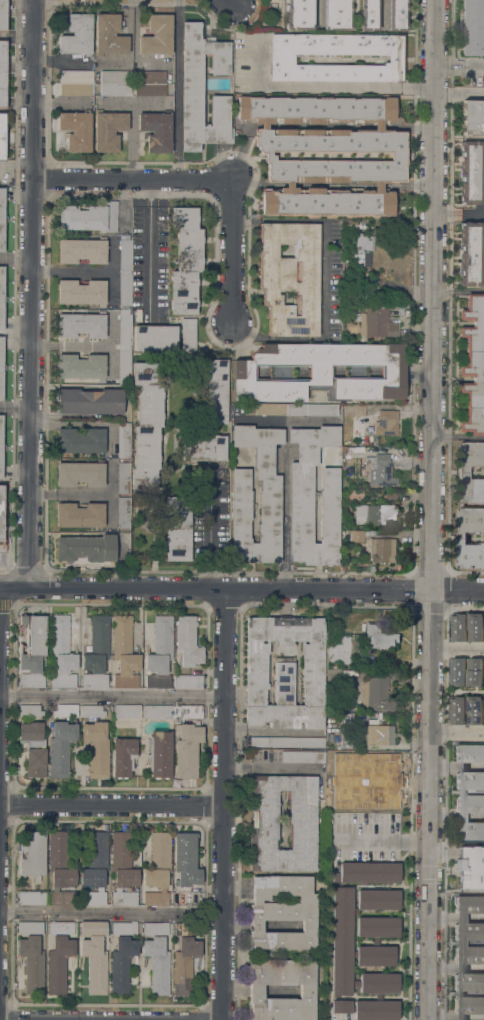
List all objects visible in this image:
road: (231, 0)
building: (483, 4)
building: (299, 14)
building: (3, 15)
building: (337, 15)
building: (369, 15)
building: (397, 15)
building: (471, 27)
building: (77, 35)
building: (109, 35)
building: (156, 35)
building: (282, 60)
road: (458, 69)
building: (3, 74)
building: (76, 82)
building: (115, 83)
building: (149, 83)
building: (192, 85)
road: (322, 86)
building: (473, 117)
building: (75, 130)
building: (107, 130)
building: (156, 130)
building: (2, 136)
building: (398, 157)
building: (471, 172)
road: (134, 180)
road: (457, 213)
building: (89, 217)
building: (1, 218)
building: (350, 225)
building: (362, 249)
building: (82, 251)
road: (234, 251)
building: (470, 254)
building: (185, 260)
road: (72, 271)
building: (289, 277)
road: (14, 289)
building: (81, 292)
road: (33, 293)
building: (1, 297)
building: (124, 307)
building: (376, 323)
building: (81, 325)
building: (188, 334)
building: (154, 338)
road: (59, 346)
building: (473, 365)
building: (80, 367)
building: (1, 368)
building: (322, 372)
building: (213, 391)
building: (89, 401)
building: (265, 409)
building: (354, 409)
building: (311, 410)
road: (311, 420)
building: (386, 422)
building: (146, 425)
building: (123, 439)
building: (80, 441)
building: (0, 443)
building: (203, 448)
building: (379, 470)
building: (80, 474)
building: (123, 477)
road: (284, 479)
building: (470, 504)
building: (269, 506)
road: (431, 510)
building: (1, 512)
building: (122, 512)
building: (376, 512)
building: (79, 515)
building: (300, 517)
building: (177, 528)
building: (369, 533)
building: (386, 533)
building: (356, 536)
road: (209, 541)
building: (86, 550)
building: (382, 550)
building: (371, 569)
road: (241, 589)
road: (0, 614)
building: (476, 626)
building: (458, 627)
building: (379, 637)
building: (187, 642)
road: (457, 646)
building: (340, 649)
building: (32, 651)
building: (61, 652)
building: (96, 653)
building: (124, 653)
building: (159, 653)
building: (332, 671)
building: (348, 672)
building: (457, 672)
building: (474, 672)
building: (284, 673)
building: (188, 682)
building: (376, 694)
road: (112, 696)
building: (483, 697)
building: (30, 710)
building: (457, 710)
building: (475, 710)
building: (65, 711)
building: (92, 711)
building: (126, 711)
building: (157, 712)
building: (186, 713)
road: (456, 729)
building: (379, 734)
building: (344, 739)
building: (287, 743)
building: (33, 748)
building: (60, 748)
building: (96, 749)
building: (186, 750)
building: (159, 754)
building: (303, 756)
building: (123, 757)
building: (373, 767)
building: (460, 792)
road: (445, 795)
road: (224, 804)
road: (112, 807)
building: (263, 831)
road: (383, 840)
building: (31, 854)
building: (185, 860)
building: (470, 867)
building: (95, 869)
building: (122, 869)
building: (158, 869)
building: (59, 870)
building: (31, 898)
building: (282, 912)
road: (111, 913)
building: (341, 941)
building: (31, 955)
building: (94, 955)
building: (59, 956)
building: (122, 956)
building: (157, 956)
building: (185, 957)
building: (468, 957)
building: (255, 992)

